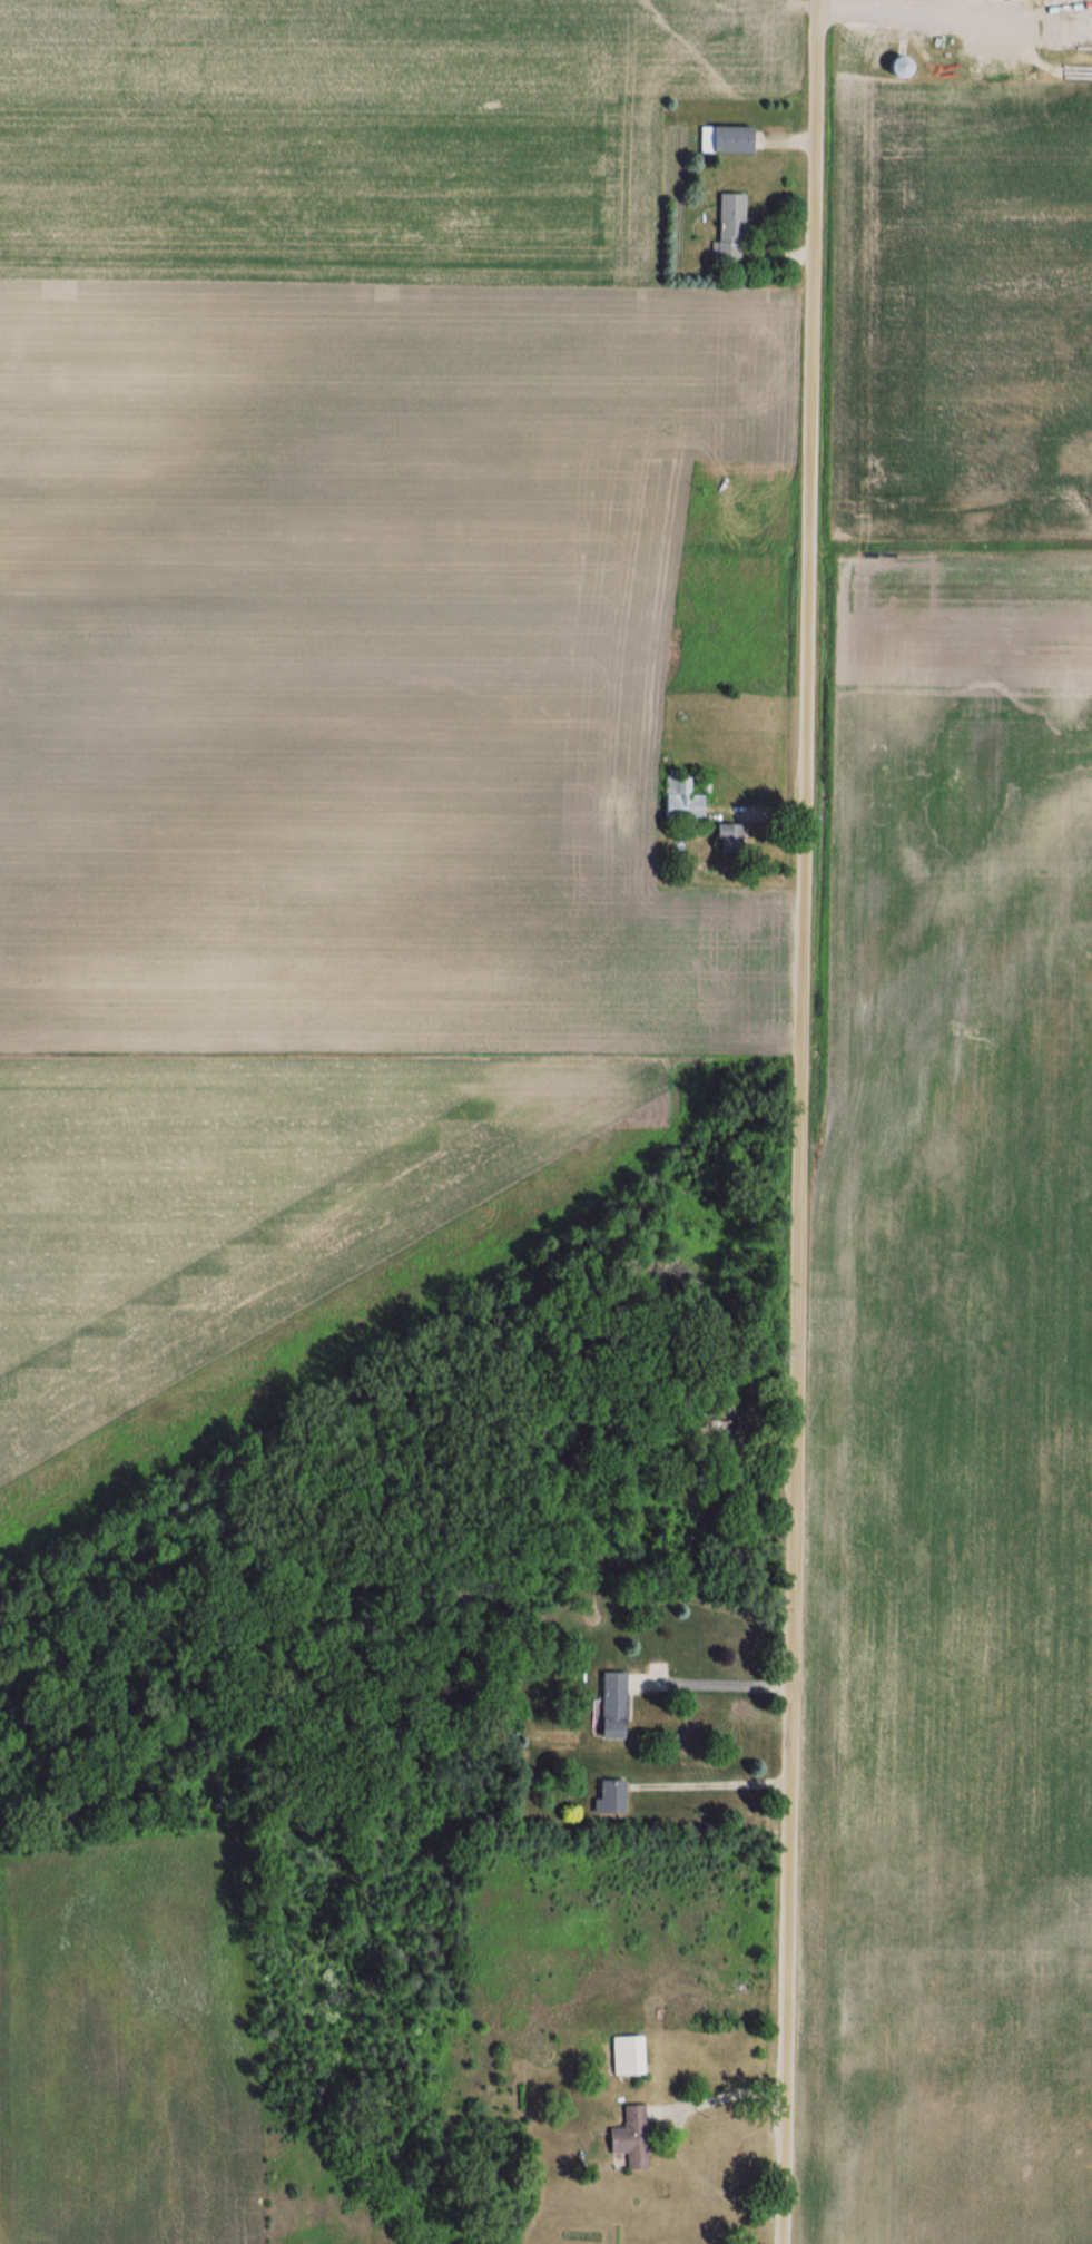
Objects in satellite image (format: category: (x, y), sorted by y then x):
building: (985, 0)
building: (897, 68)
building: (725, 139)
building: (729, 228)
building: (682, 802)
building: (731, 835)
road: (799, 1121)
road: (715, 1683)
building: (612, 1706)
road: (718, 1782)
building: (611, 1797)
building: (628, 2056)
road: (717, 2100)
building: (631, 2137)

